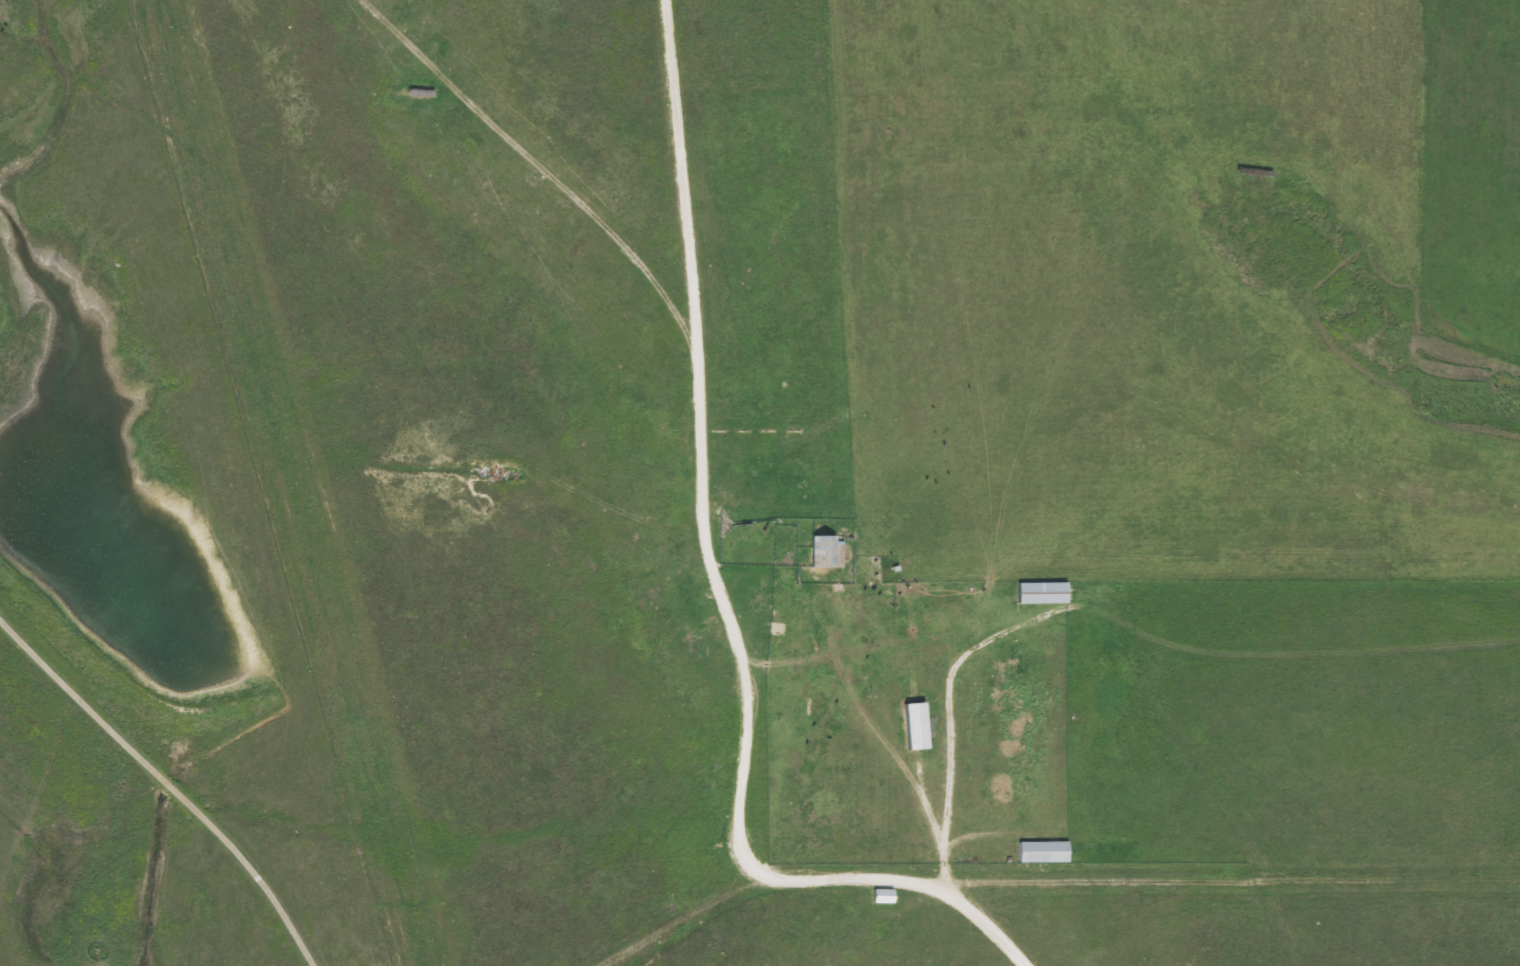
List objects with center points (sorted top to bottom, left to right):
building: (830, 551)
road: (721, 587)
building: (1045, 593)
building: (919, 725)
road: (945, 742)
road: (165, 786)
building: (1046, 852)
building: (885, 896)

